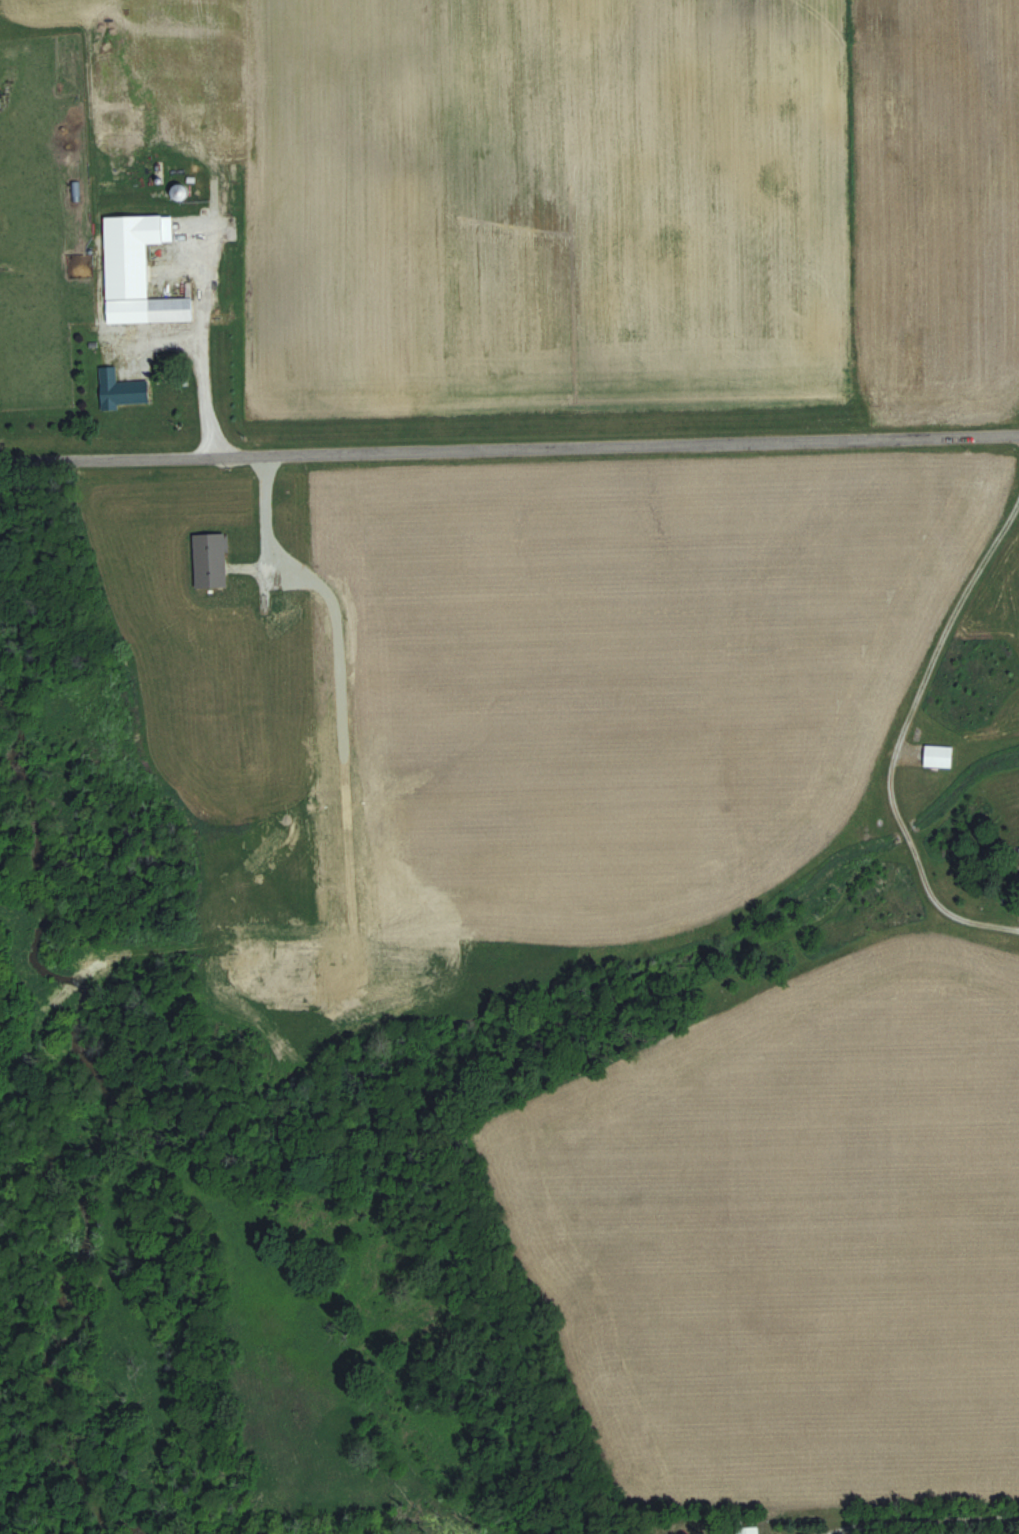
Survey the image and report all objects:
building: (179, 191)
building: (149, 309)
road: (202, 351)
building: (124, 391)
road: (509, 449)
building: (210, 560)
road: (949, 616)
building: (938, 756)
road: (923, 1519)
building: (747, 1529)

